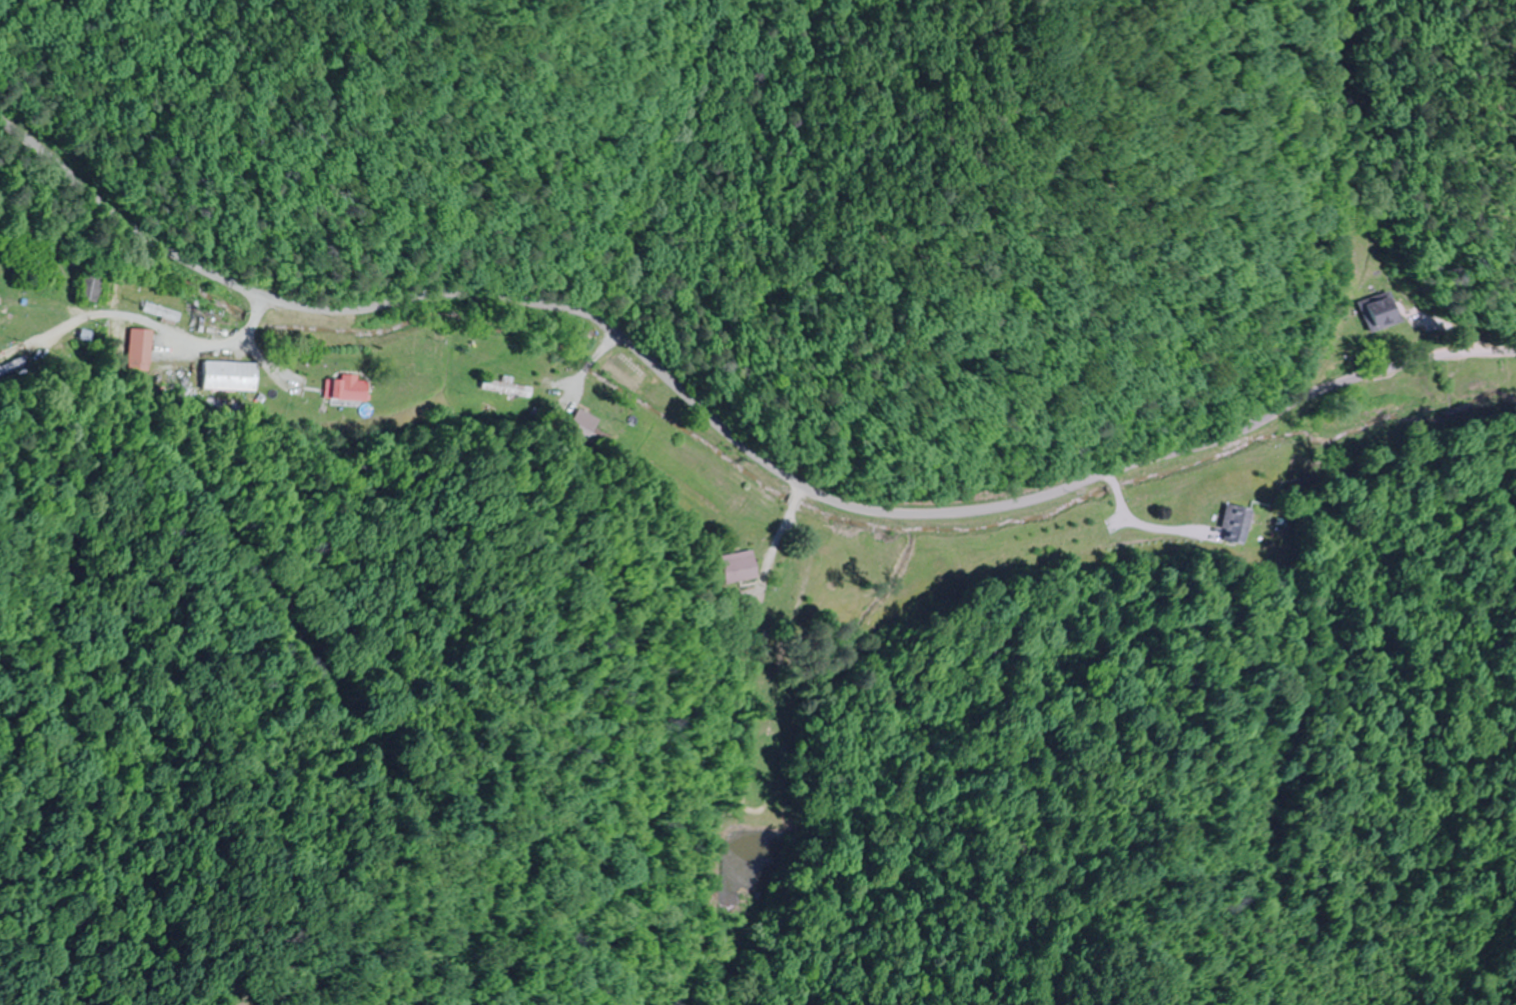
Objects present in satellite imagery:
building: (27, 248)
building: (88, 286)
road: (8, 304)
building: (159, 313)
building: (1376, 313)
road: (175, 336)
building: (138, 352)
building: (227, 377)
building: (506, 389)
building: (342, 390)
building: (594, 432)
road: (731, 434)
building: (1233, 523)
building: (736, 568)
road: (904, 758)

